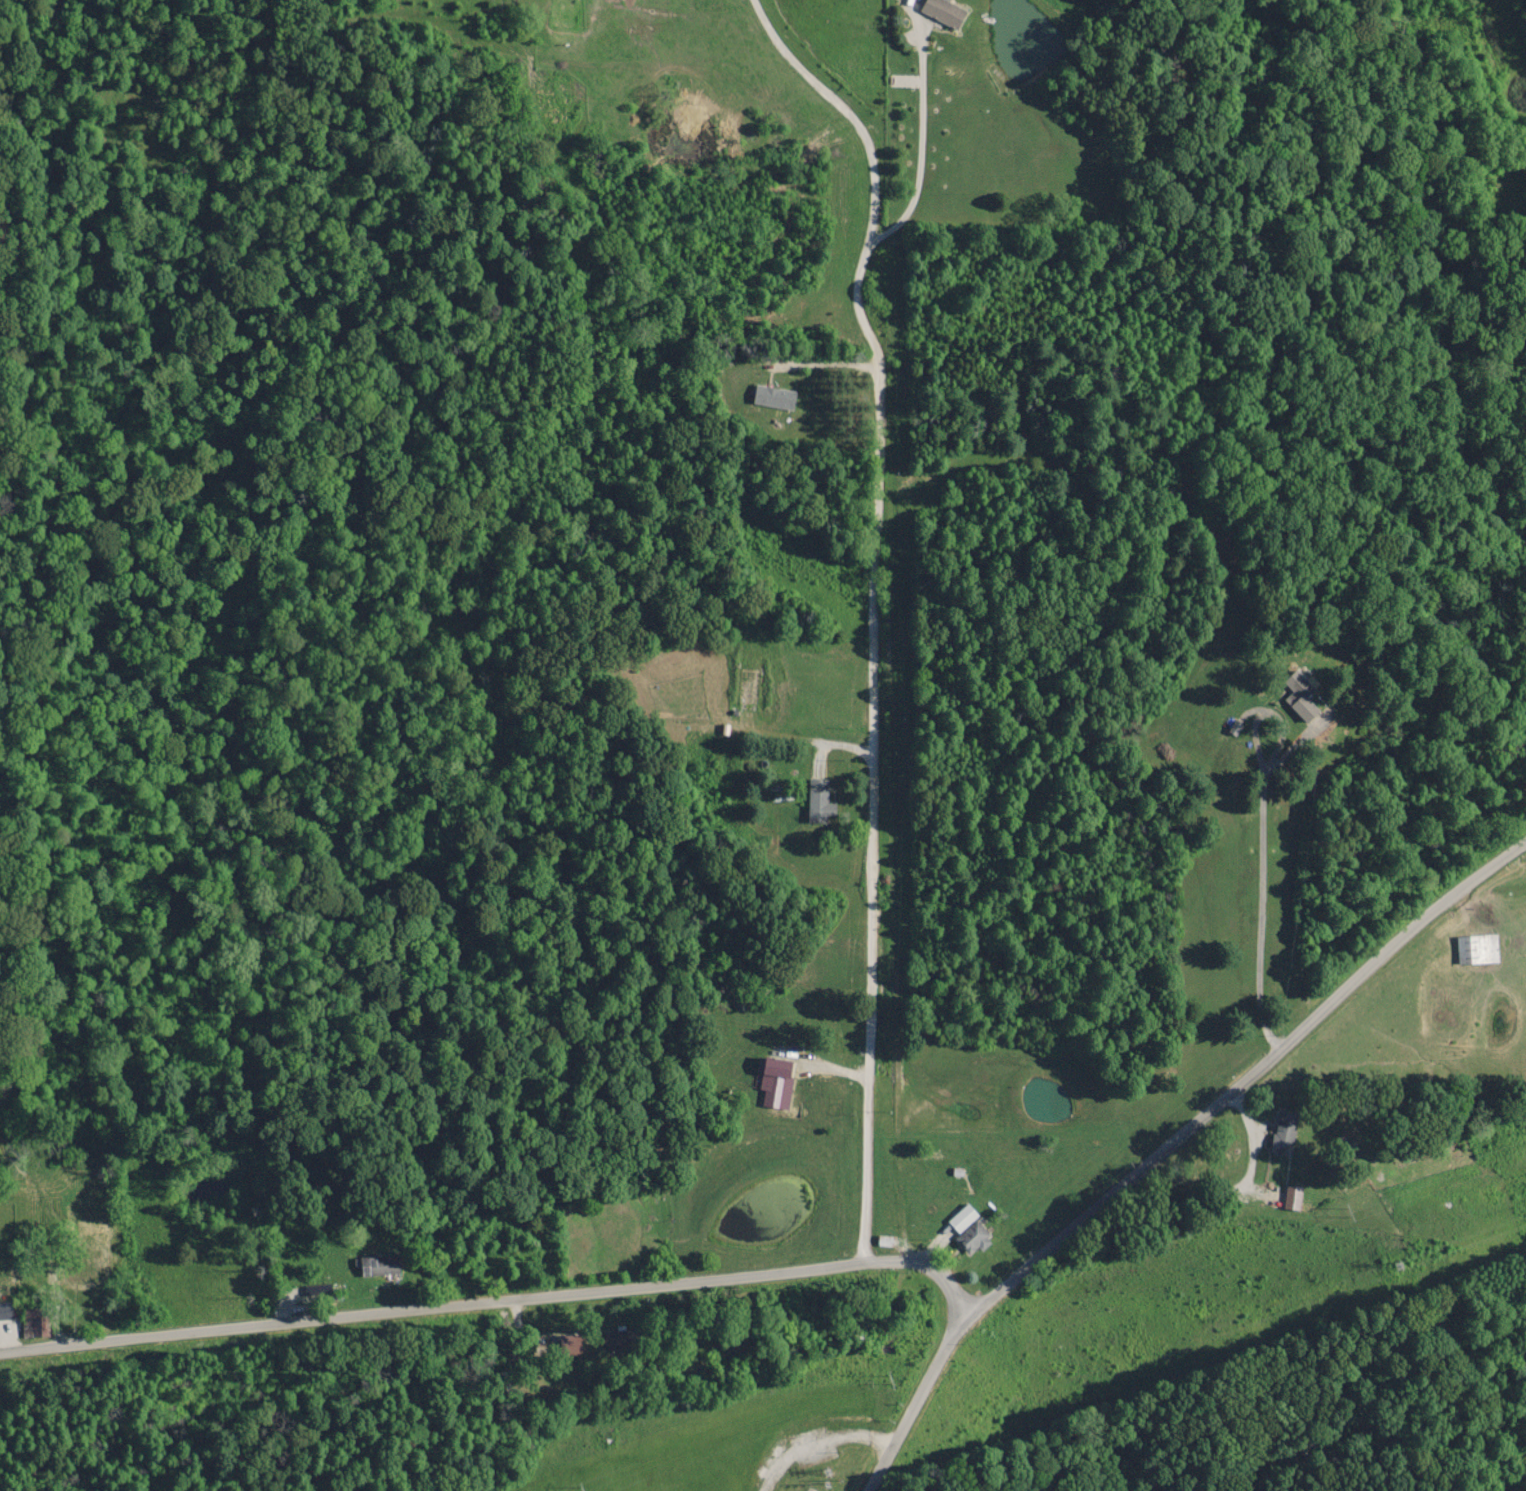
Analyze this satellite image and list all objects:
building: (941, 11)
building: (772, 397)
building: (747, 688)
building: (1298, 697)
road: (873, 745)
building: (816, 802)
building: (1474, 950)
building: (773, 1082)
building: (1281, 1132)
road: (1168, 1142)
building: (1291, 1199)
building: (966, 1232)
building: (85, 1261)
building: (376, 1266)
road: (496, 1300)
building: (34, 1324)
building: (612, 1342)

